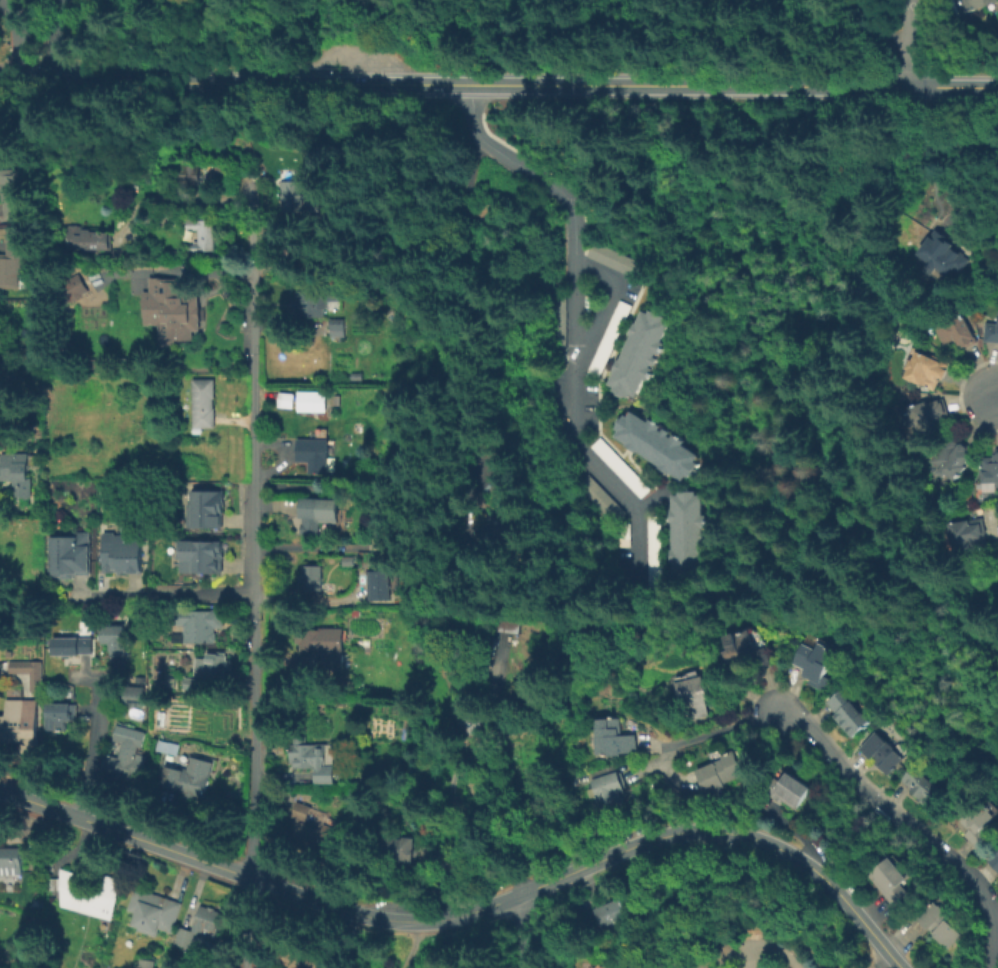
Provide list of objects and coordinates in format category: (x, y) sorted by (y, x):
building: (967, 5)
road: (877, 29)
road: (19, 39)
road: (58, 39)
road: (908, 43)
road: (454, 83)
road: (953, 86)
building: (200, 176)
building: (17, 191)
building: (299, 192)
building: (205, 234)
building: (94, 239)
building: (937, 256)
building: (611, 258)
building: (15, 260)
building: (347, 265)
road: (602, 299)
building: (310, 305)
building: (175, 311)
road: (457, 317)
building: (337, 327)
road: (572, 329)
building: (955, 330)
building: (992, 336)
building: (607, 338)
building: (637, 352)
building: (925, 369)
building: (1, 370)
building: (355, 376)
road: (994, 396)
building: (284, 399)
building: (310, 400)
building: (204, 402)
building: (926, 415)
building: (655, 444)
building: (312, 453)
building: (953, 461)
building: (618, 467)
building: (16, 472)
building: (989, 472)
building: (208, 511)
building: (316, 513)
building: (387, 525)
building: (500, 533)
building: (685, 534)
building: (966, 535)
road: (995, 537)
road: (321, 547)
building: (652, 549)
building: (125, 553)
building: (72, 555)
building: (202, 559)
building: (350, 560)
building: (311, 577)
road: (252, 580)
building: (383, 588)
road: (172, 595)
building: (510, 622)
building: (202, 625)
building: (116, 640)
building: (493, 645)
building: (324, 647)
building: (11, 648)
building: (74, 648)
building: (745, 648)
building: (814, 660)
building: (208, 665)
building: (33, 672)
building: (193, 684)
building: (136, 696)
building: (693, 696)
building: (58, 712)
building: (847, 712)
building: (472, 723)
building: (20, 726)
road: (698, 737)
building: (614, 738)
building: (165, 746)
road: (92, 748)
building: (126, 752)
building: (882, 752)
building: (312, 758)
building: (725, 771)
building: (188, 777)
building: (789, 786)
building: (923, 787)
building: (609, 790)
building: (300, 811)
building: (977, 822)
road: (912, 825)
building: (318, 834)
building: (400, 851)
building: (12, 859)
building: (994, 864)
building: (892, 877)
building: (90, 892)
building: (153, 910)
road: (473, 910)
building: (614, 912)
building: (942, 923)
building: (200, 927)
road: (523, 929)
road: (413, 945)
road: (766, 946)
building: (304, 961)
road: (881, 961)
building: (146, 962)

